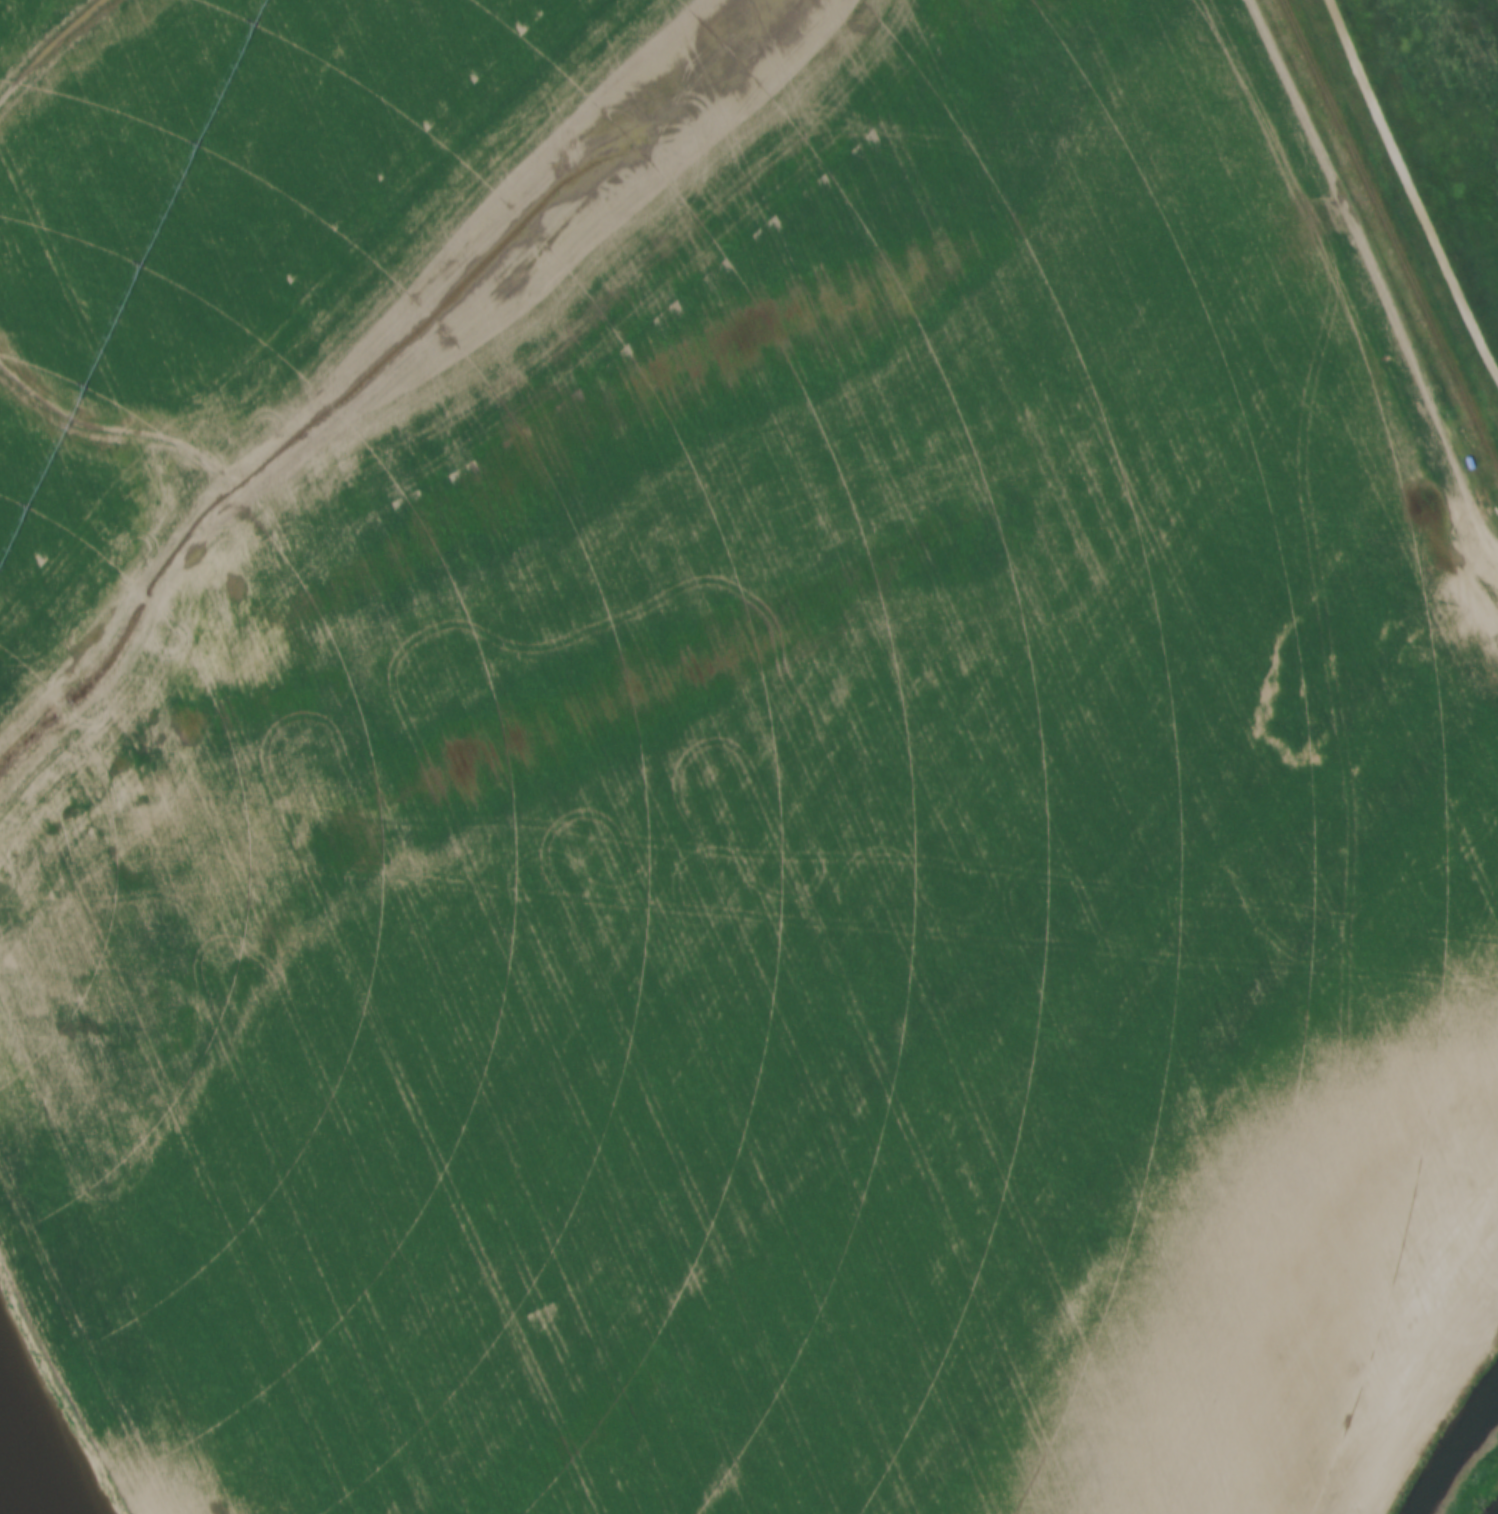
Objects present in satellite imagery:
road: (1412, 187)
river: (16, 1483)
park: (10, 1493)

